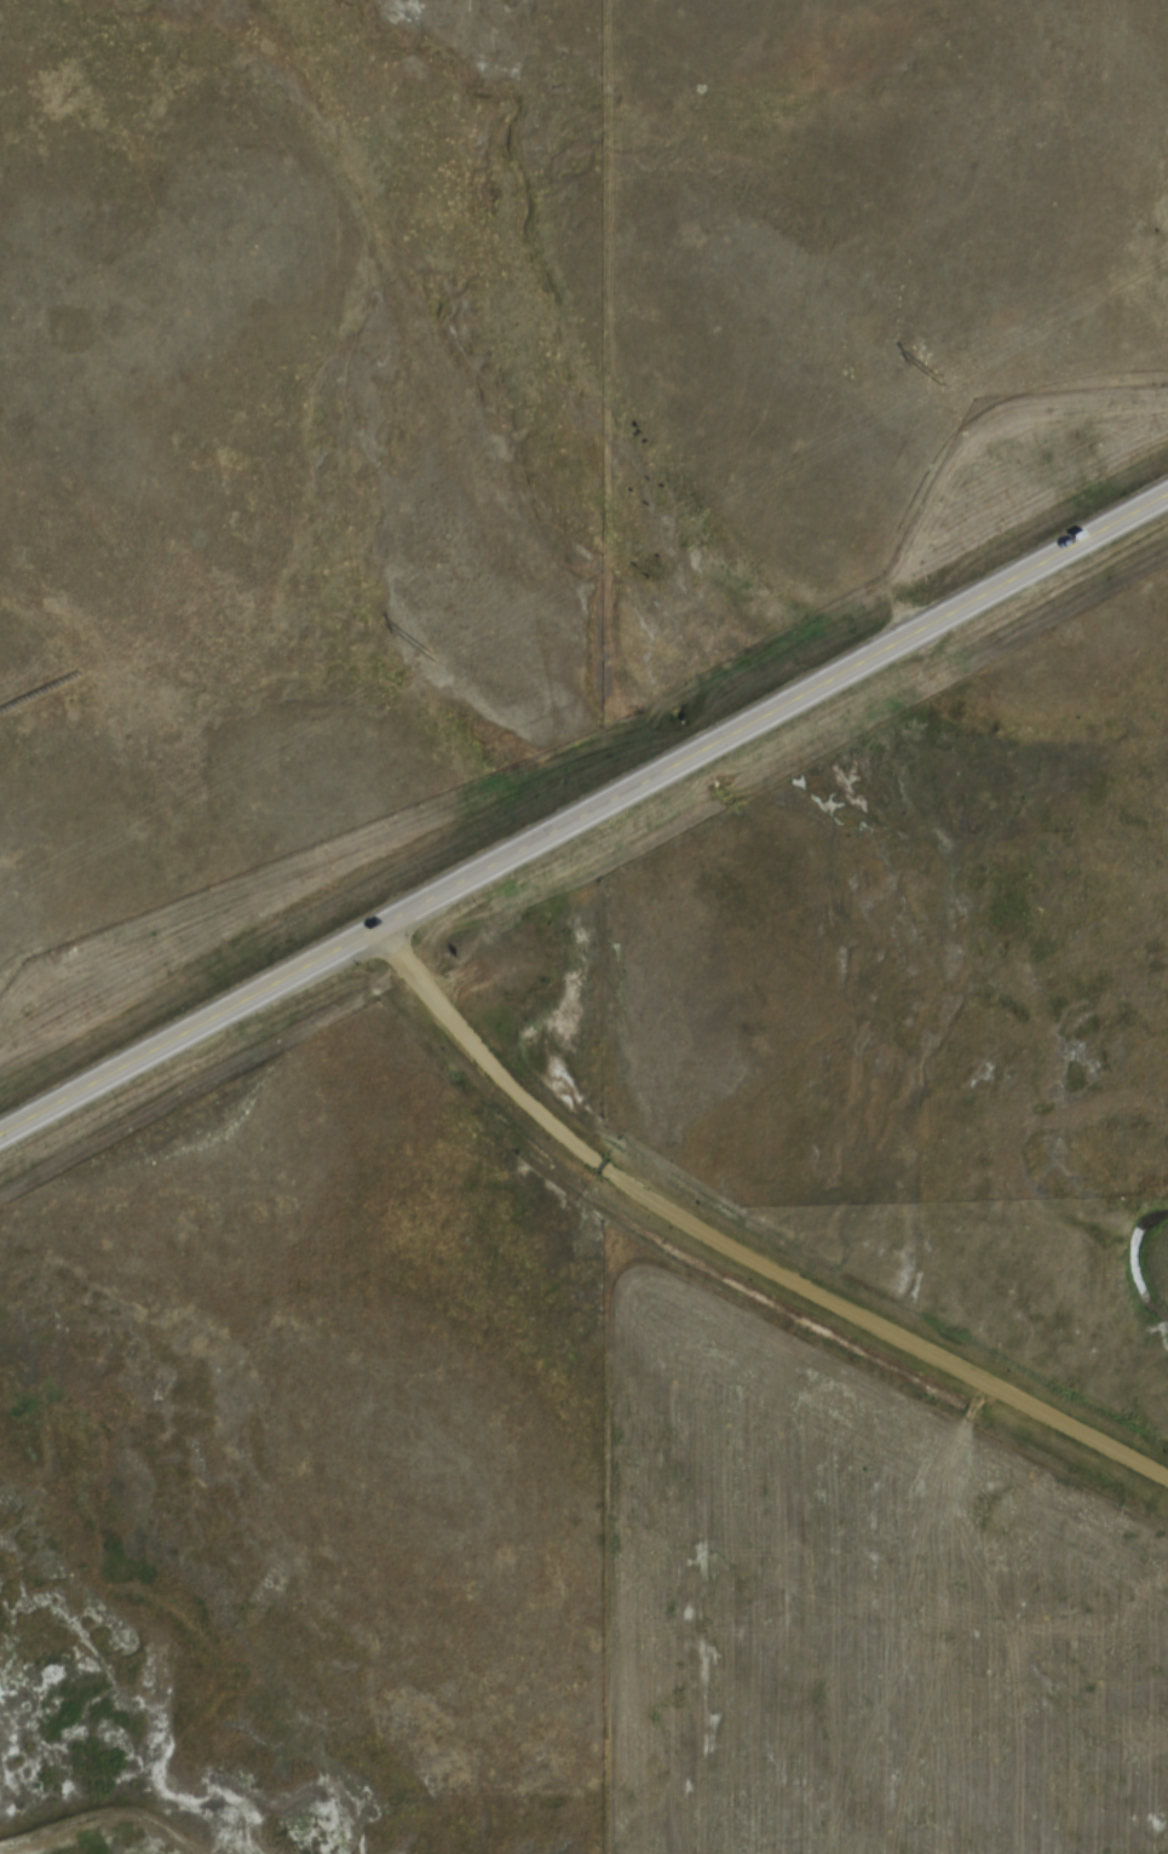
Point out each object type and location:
power tower: (936, 377)
power tower: (425, 658)
road: (583, 817)
road: (758, 1224)

